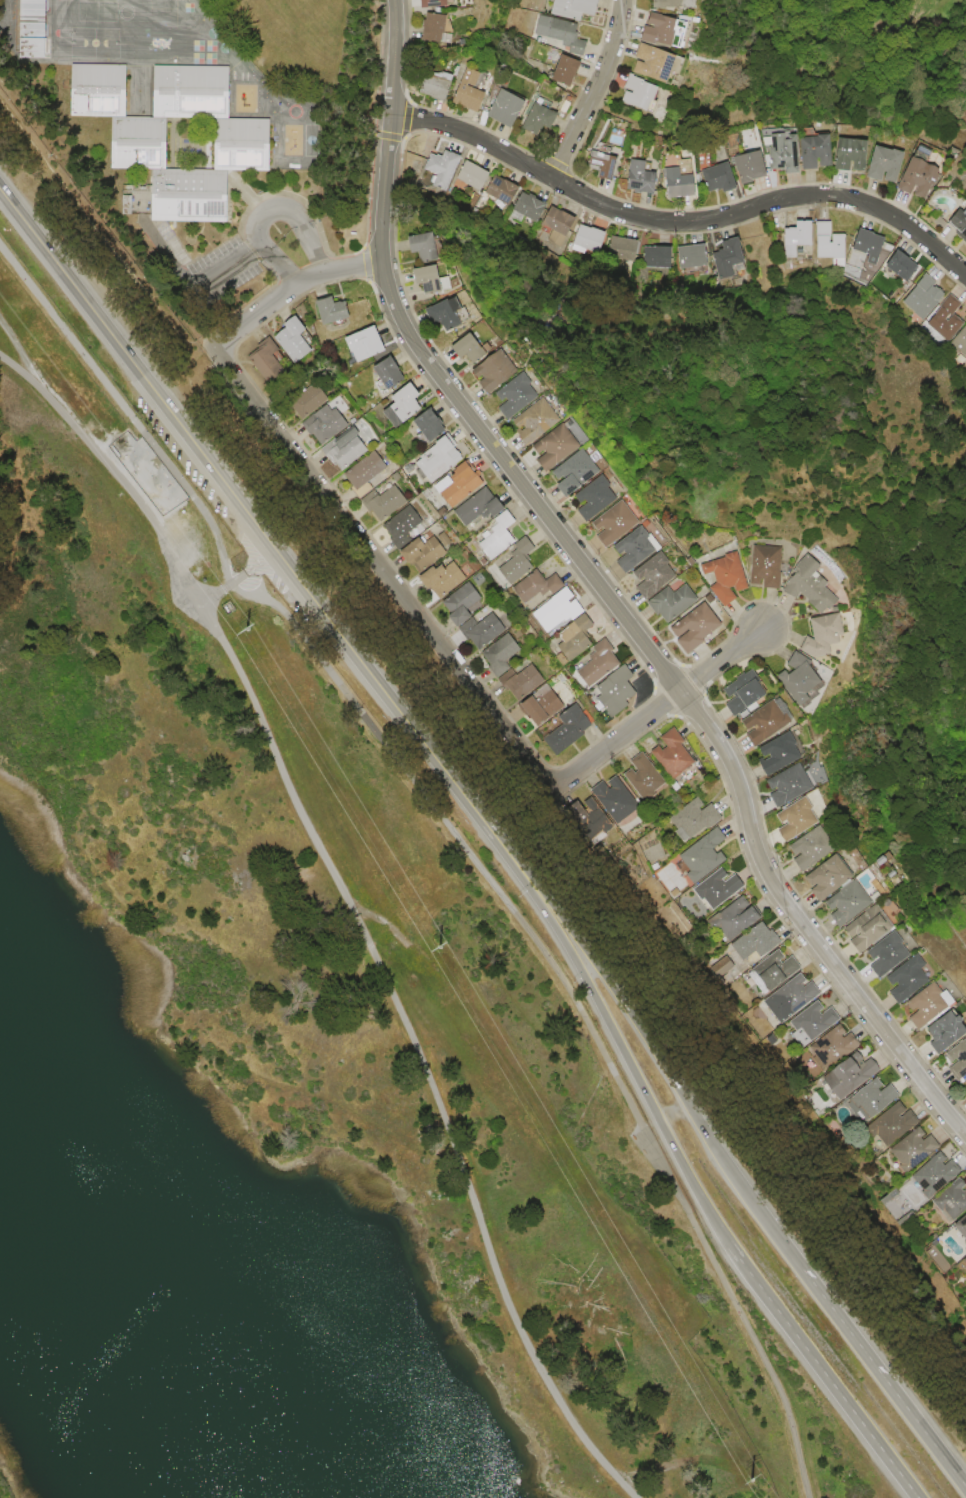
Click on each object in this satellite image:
building: (438, 3)
building: (678, 4)
building: (33, 7)
building: (576, 8)
building: (33, 27)
building: (439, 29)
building: (670, 31)
building: (562, 33)
building: (33, 47)
building: (658, 63)
building: (569, 71)
park: (844, 79)
building: (435, 86)
building: (98, 90)
building: (192, 91)
building: (471, 91)
road: (596, 92)
building: (643, 93)
building: (509, 107)
building: (541, 116)
building: (138, 142)
building: (243, 144)
building: (816, 151)
building: (851, 152)
building: (785, 153)
building: (605, 164)
building: (887, 164)
building: (752, 167)
building: (444, 168)
building: (474, 175)
building: (643, 178)
building: (719, 178)
building: (921, 178)
building: (682, 184)
building: (504, 190)
building: (190, 195)
building: (531, 207)
road: (270, 212)
road: (91, 221)
building: (561, 221)
road: (681, 222)
building: (961, 223)
building: (797, 238)
building: (589, 239)
building: (829, 242)
building: (868, 245)
building: (416, 246)
building: (624, 247)
building: (659, 253)
building: (696, 255)
building: (730, 257)
road: (233, 264)
building: (903, 265)
building: (420, 279)
road: (294, 290)
building: (924, 298)
road: (89, 307)
building: (328, 309)
building: (439, 311)
building: (947, 318)
building: (288, 339)
building: (363, 341)
building: (960, 342)
building: (457, 348)
road: (20, 351)
building: (261, 357)
road: (185, 365)
building: (483, 370)
building: (382, 372)
building: (505, 394)
building: (303, 400)
building: (398, 403)
building: (525, 420)
building: (320, 423)
building: (421, 425)
building: (545, 447)
building: (342, 451)
building: (432, 459)
building: (565, 472)
building: (362, 473)
building: (455, 484)
building: (586, 498)
building: (382, 502)
building: (472, 506)
building: (402, 521)
building: (606, 523)
building: (493, 536)
building: (624, 549)
building: (419, 552)
building: (513, 562)
building: (753, 567)
road: (386, 570)
road: (237, 575)
building: (645, 575)
building: (715, 577)
building: (439, 578)
parking lot: (274, 581)
building: (795, 585)
building: (531, 586)
road: (603, 589)
building: (664, 602)
building: (458, 603)
building: (552, 611)
building: (687, 627)
power tower: (245, 628)
building: (481, 629)
road: (340, 635)
building: (809, 635)
building: (570, 637)
building: (498, 654)
building: (593, 664)
building: (788, 677)
building: (519, 683)
building: (610, 691)
building: (733, 697)
building: (537, 707)
road: (658, 710)
building: (756, 722)
building: (565, 729)
building: (666, 754)
building: (769, 754)
building: (638, 777)
building: (779, 785)
building: (612, 798)
building: (687, 819)
building: (786, 819)
road: (459, 835)
building: (801, 848)
building: (696, 856)
building: (817, 878)
building: (710, 889)
building: (837, 904)
road: (351, 907)
building: (727, 919)
building: (859, 932)
building: (747, 943)
power tower: (438, 946)
building: (877, 955)
building: (766, 970)
building: (897, 979)
building: (782, 998)
building: (918, 1006)
building: (806, 1021)
building: (936, 1032)
road: (618, 1044)
building: (822, 1049)
road: (657, 1055)
building: (954, 1058)
building: (839, 1079)
building: (963, 1082)
building: (965, 1097)
building: (863, 1101)
building: (884, 1125)
building: (906, 1150)
building: (927, 1176)
building: (947, 1199)
building: (957, 1227)
building: (961, 1263)
road: (822, 1371)
road: (882, 1377)
power tower: (750, 1479)
road: (964, 1485)

